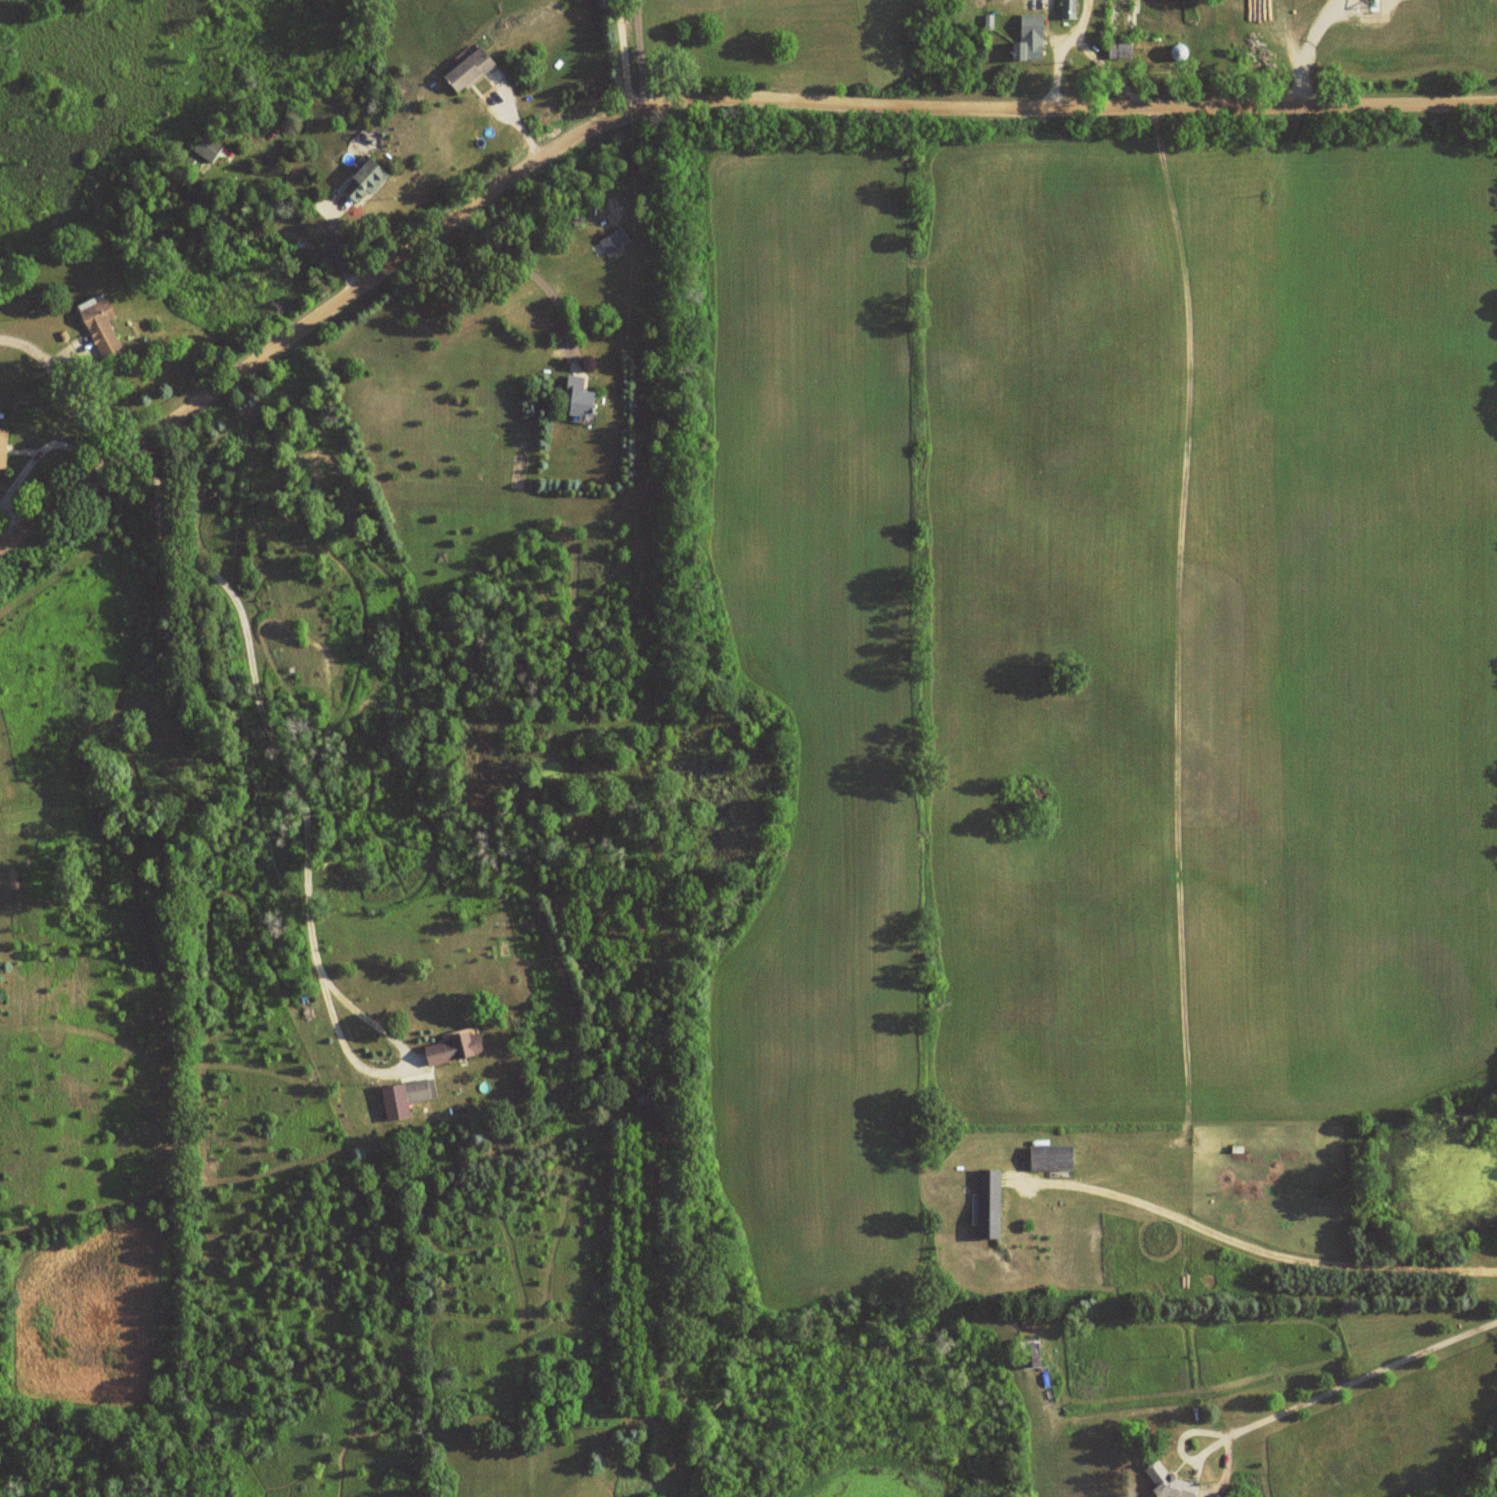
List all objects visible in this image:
building: (1118, 29)
building: (1025, 38)
road: (636, 54)
road: (620, 57)
building: (462, 69)
road: (680, 100)
building: (210, 147)
building: (367, 181)
building: (607, 245)
building: (100, 329)
road: (64, 391)
building: (579, 399)
building: (2, 450)
road: (300, 819)
building: (450, 1050)
building: (414, 1092)
building: (1049, 1158)
building: (986, 1203)
road: (1263, 1251)
building: (1027, 1354)
road: (1365, 1378)

